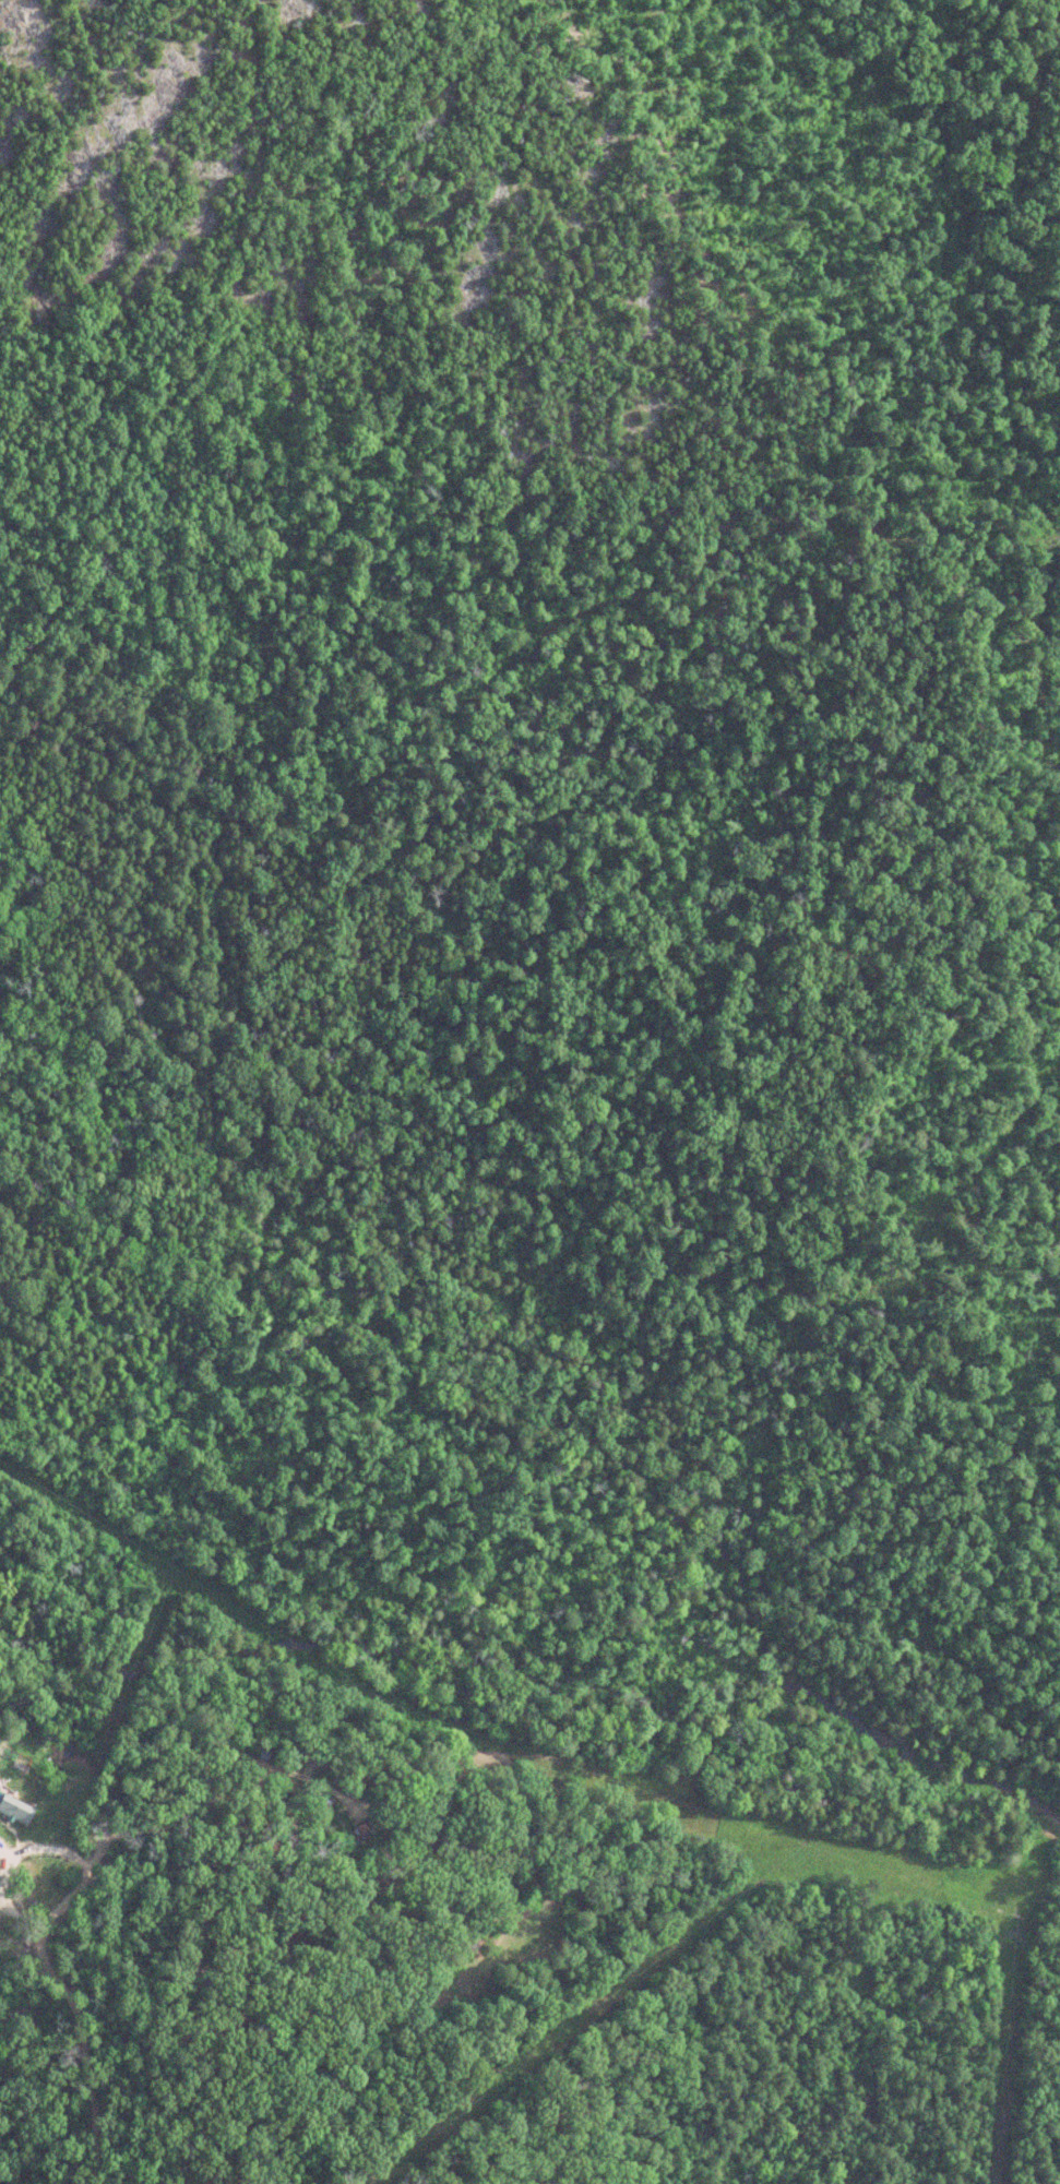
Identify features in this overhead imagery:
road: (252, 1726)
building: (17, 1807)
road: (98, 2009)
road: (767, 2108)

